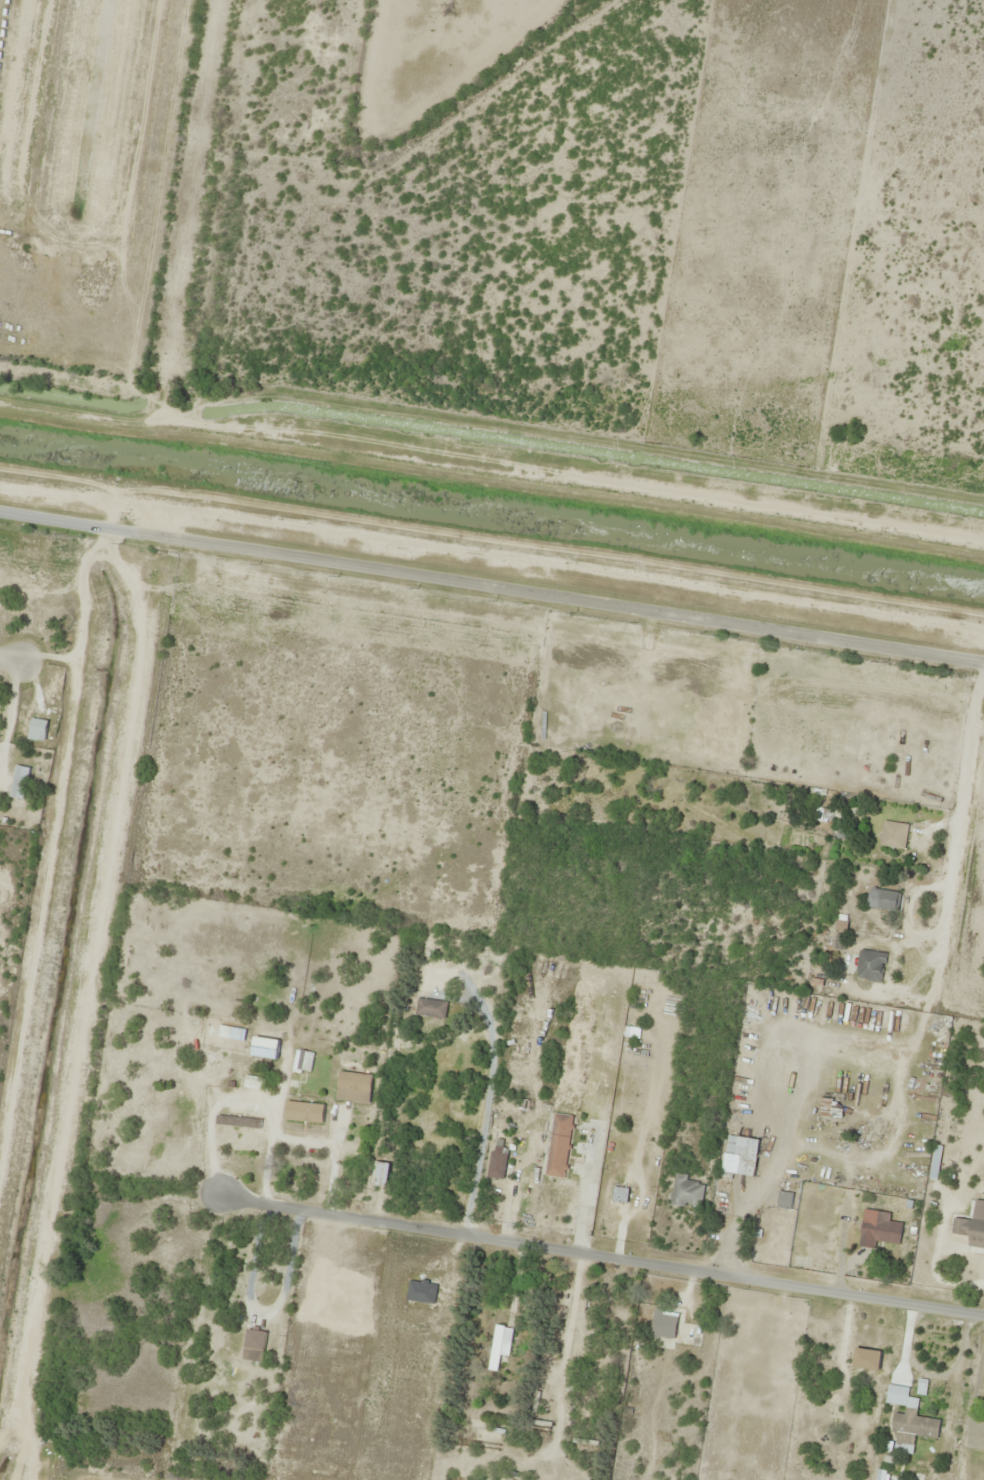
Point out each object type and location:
road: (490, 565)
road: (9, 655)
railway: (131, 740)
road: (795, 761)
building: (19, 782)
building: (893, 835)
building: (887, 900)
building: (870, 966)
building: (430, 1009)
building: (231, 1033)
building: (265, 1048)
building: (302, 1062)
building: (256, 1083)
building: (238, 1122)
building: (559, 1146)
building: (740, 1156)
road: (711, 1173)
building: (380, 1174)
building: (687, 1192)
building: (783, 1200)
building: (878, 1229)
road: (573, 1252)
building: (662, 1331)
building: (254, 1345)
building: (499, 1345)
building: (866, 1360)
building: (915, 1426)

